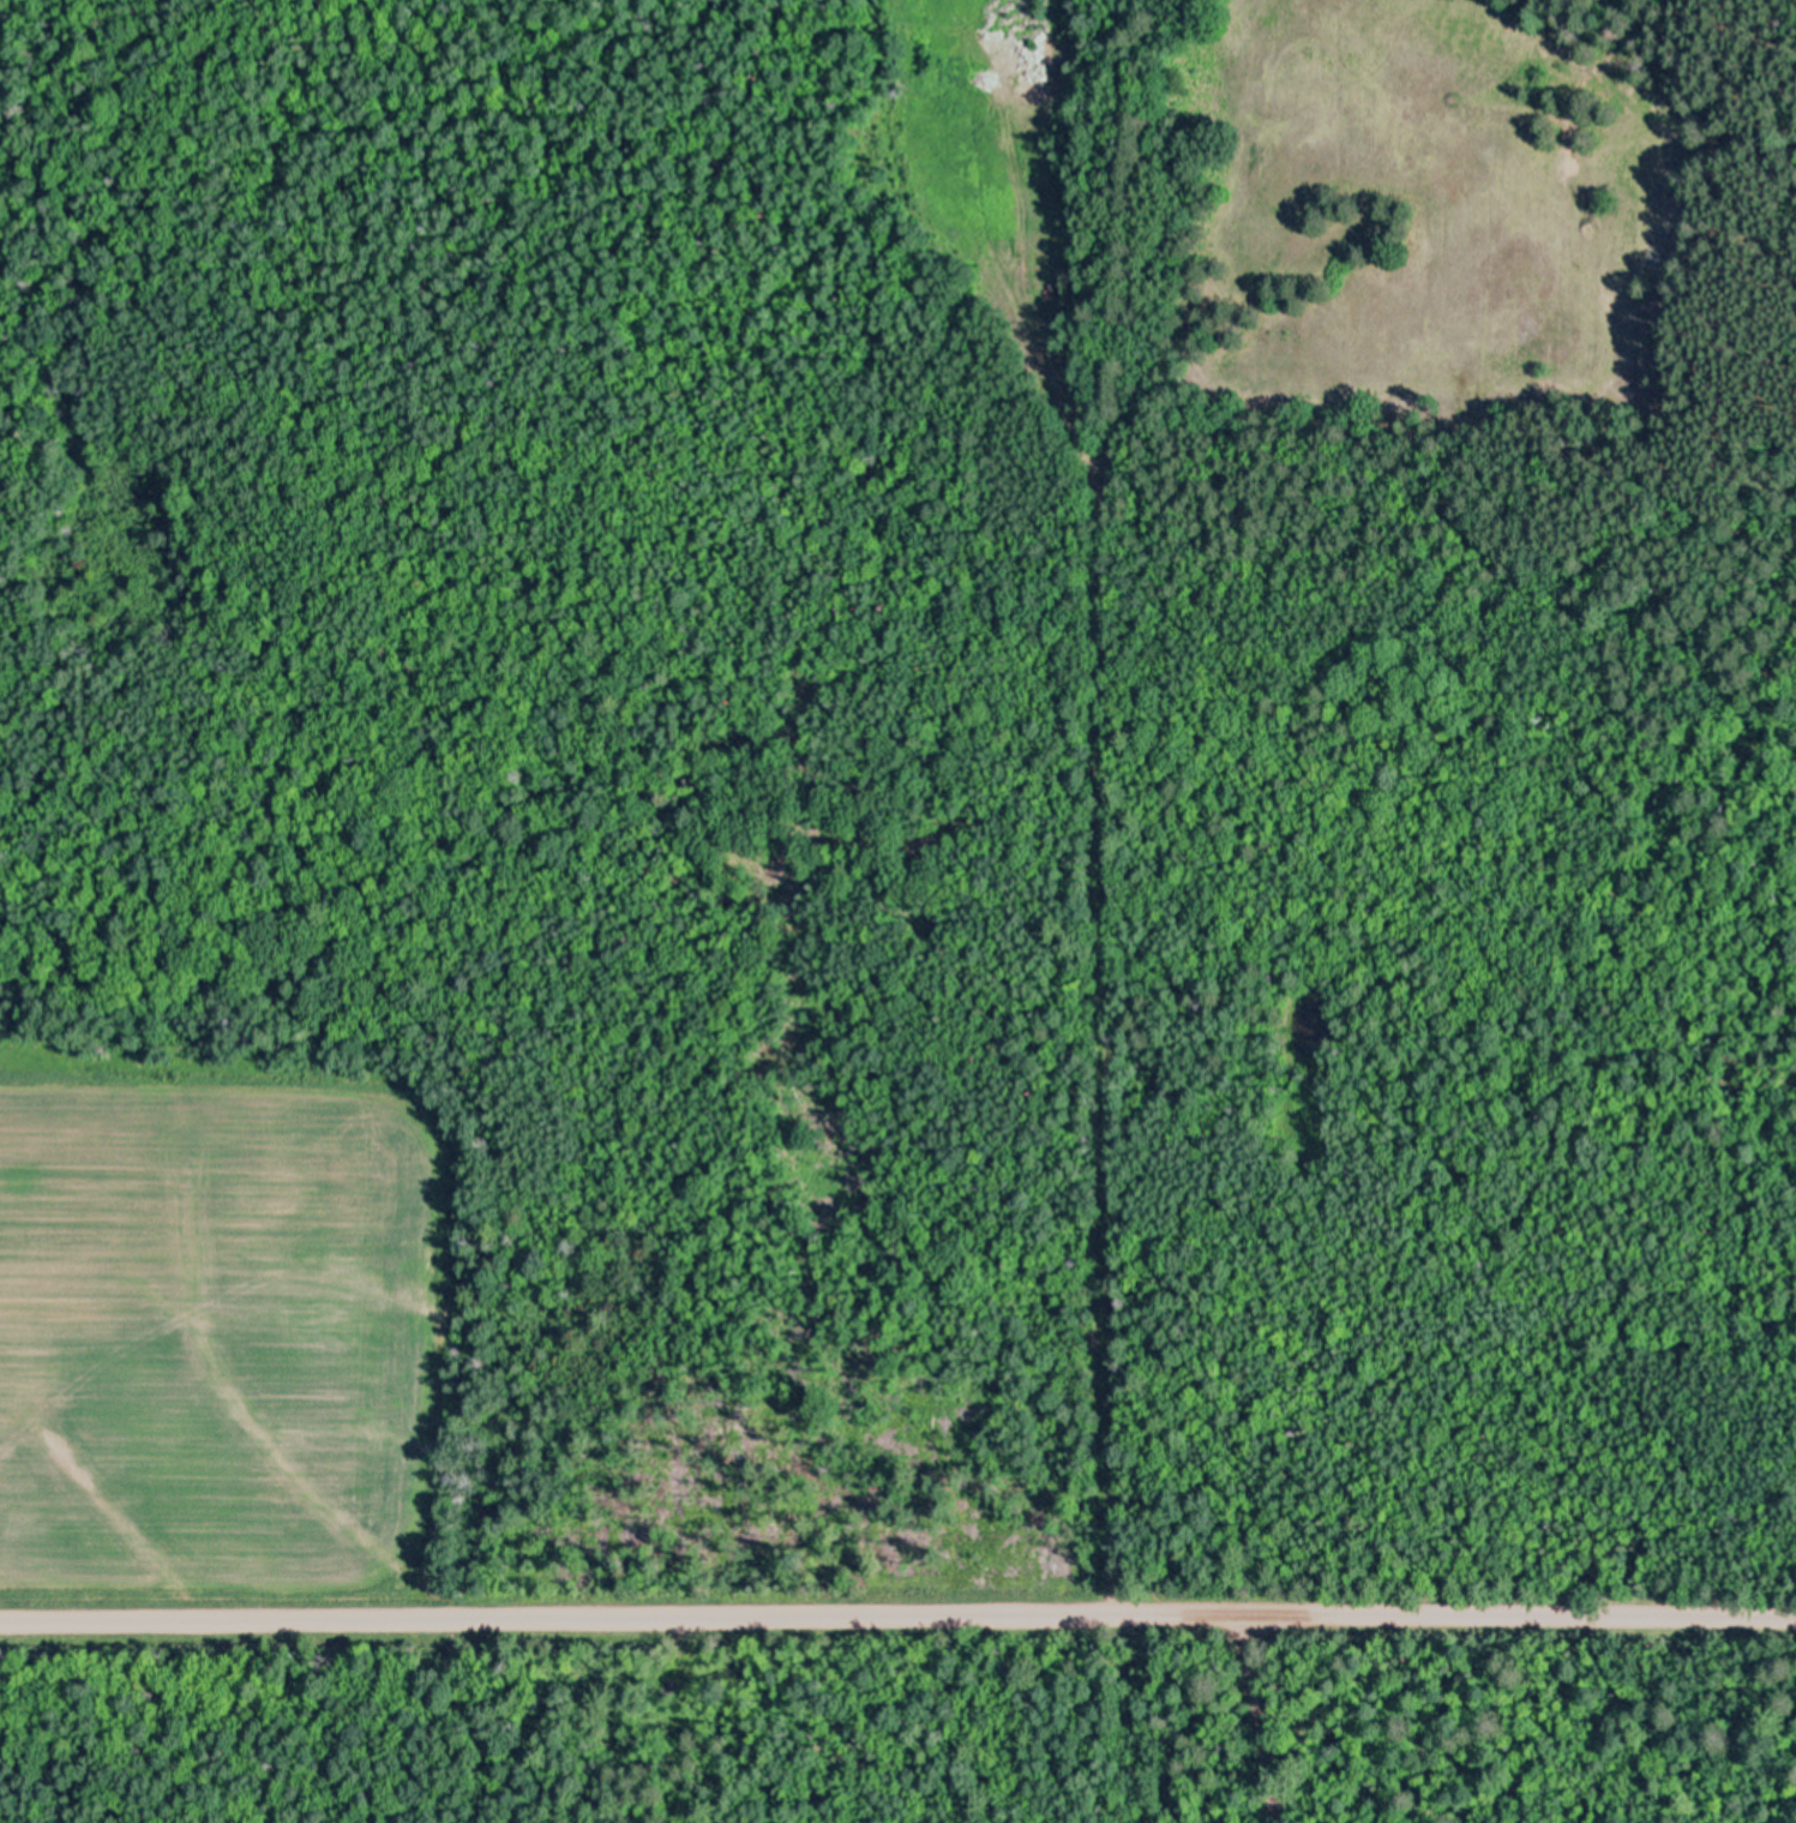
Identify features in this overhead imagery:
road: (1135, 781)
road: (897, 1615)
road: (1245, 1719)

